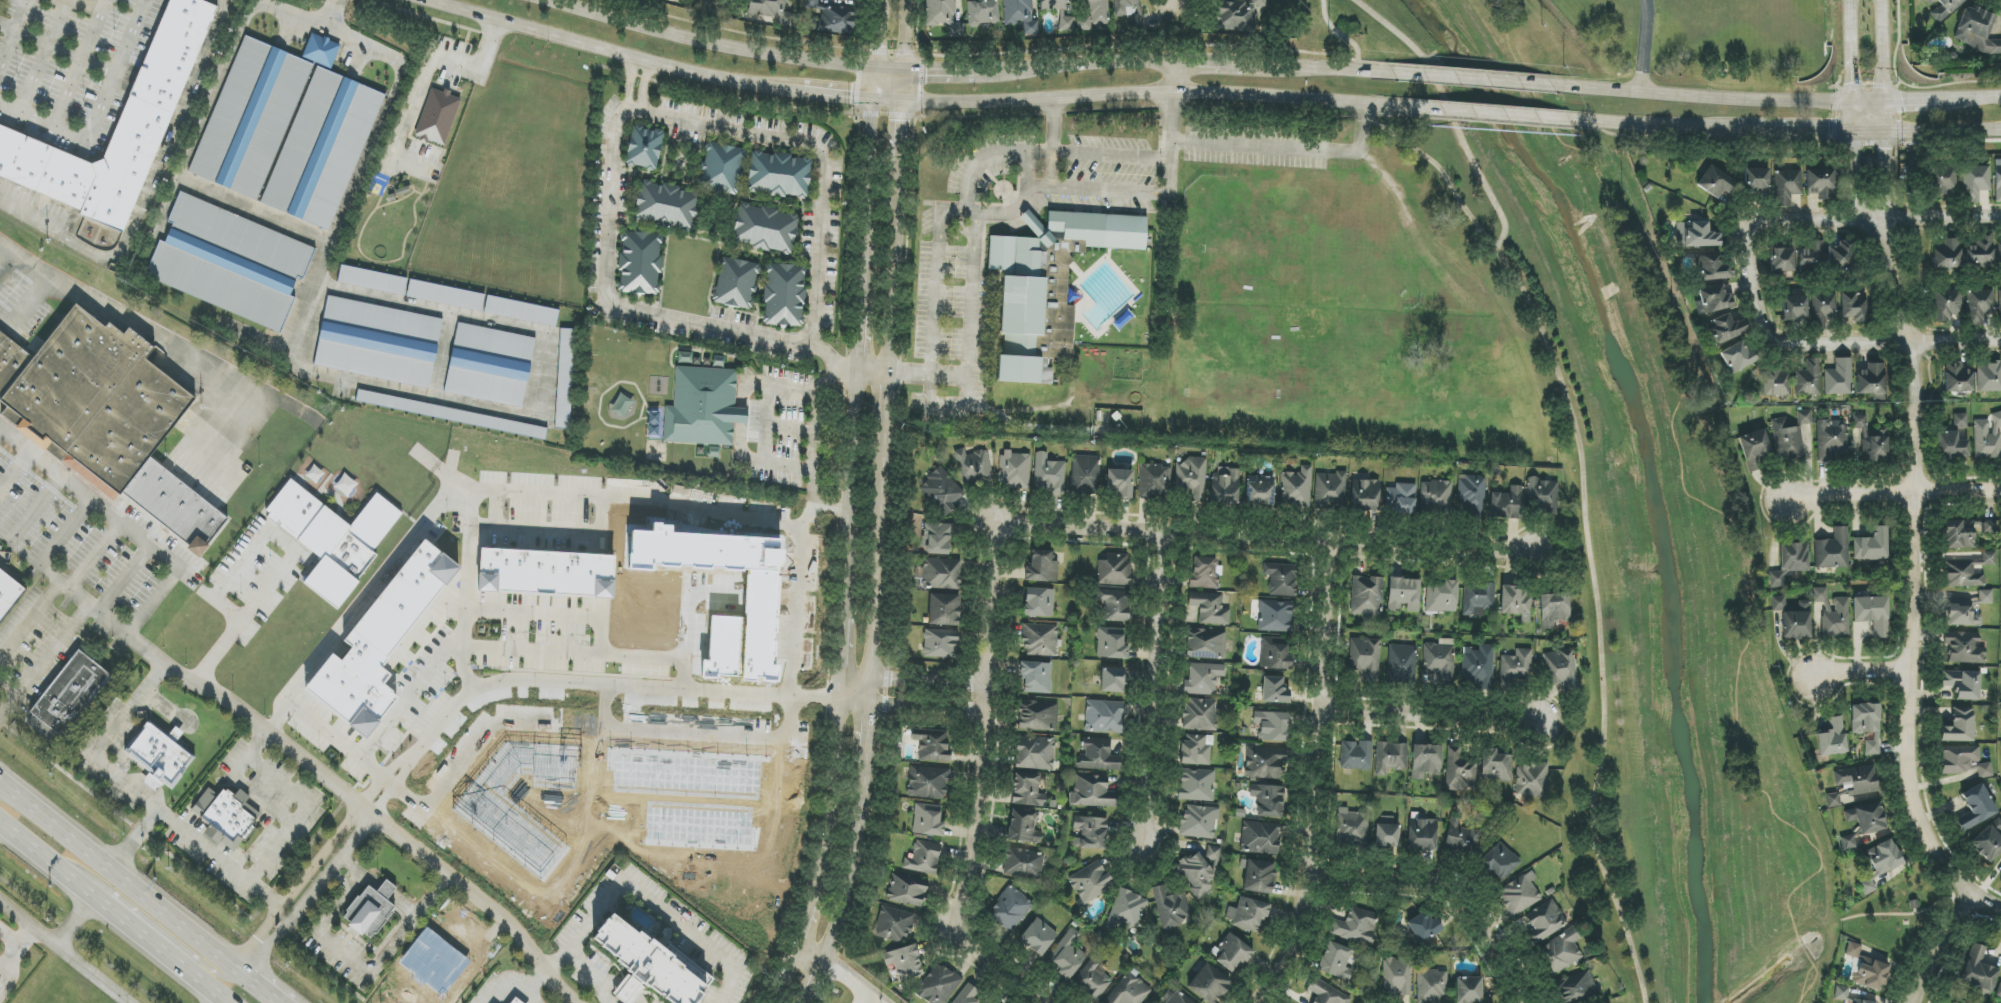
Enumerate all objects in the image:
road: (227, 2)
road: (1178, 3)
building: (1051, 4)
building: (1944, 8)
building: (771, 11)
building: (1129, 11)
building: (982, 12)
road: (299, 15)
building: (1020, 15)
building: (1095, 15)
building: (1237, 15)
building: (944, 16)
building: (831, 18)
building: (1067, 23)
road: (343, 31)
building: (1979, 31)
road: (878, 35)
road: (1343, 35)
road: (696, 42)
road: (1642, 45)
road: (59, 48)
building: (321, 50)
road: (613, 53)
road: (1854, 53)
road: (1885, 53)
building: (166, 65)
road: (1205, 65)
traffic signals: (873, 70)
road: (888, 70)
road: (1076, 70)
road: (1314, 70)
traffic signals: (904, 71)
road: (942, 71)
road: (424, 77)
road: (1471, 79)
road: (630, 83)
road: (644, 85)
road: (1140, 94)
road: (1704, 95)
road: (835, 96)
traffic signals: (870, 99)
traffic signals: (902, 101)
road: (1971, 103)
road: (1930, 104)
road: (1904, 105)
traffic signals: (1857, 106)
road: (1873, 106)
traffic signals: (1889, 106)
road: (1172, 111)
road: (102, 113)
road: (1450, 113)
road: (1489, 114)
building: (437, 117)
building: (250, 118)
road: (1890, 118)
road: (917, 121)
road: (1053, 126)
road: (1662, 126)
road: (1929, 130)
road: (1807, 131)
traffic signals: (1857, 131)
traffic signals: (1891, 131)
building: (644, 148)
road: (1289, 148)
building: (322, 149)
road: (819, 153)
road: (1110, 155)
road: (978, 162)
road: (1855, 166)
building: (722, 168)
road: (1051, 170)
building: (779, 175)
road: (1886, 175)
building: (1756, 180)
building: (1997, 180)
building: (1943, 181)
building: (1716, 183)
building: (1820, 183)
building: (1975, 183)
building: (1786, 186)
road: (1038, 187)
road: (145, 189)
road: (1026, 190)
road: (1126, 192)
building: (665, 206)
road: (1874, 219)
building: (765, 228)
building: (1696, 234)
road: (1727, 236)
building: (1981, 251)
building: (1947, 254)
building: (1999, 254)
building: (1811, 255)
building: (1838, 255)
building: (1781, 260)
road: (8, 261)
building: (229, 262)
building: (640, 263)
building: (1712, 268)
road: (936, 274)
building: (372, 280)
building: (736, 283)
building: (1048, 286)
building: (445, 295)
building: (784, 295)
road: (972, 296)
building: (1714, 299)
building: (1948, 304)
building: (2000, 305)
road: (28, 306)
building: (1853, 307)
building: (1979, 307)
building: (1794, 308)
road: (1889, 308)
building: (1822, 309)
road: (633, 310)
building: (521, 311)
road: (1749, 327)
building: (1725, 329)
road: (158, 334)
road: (1896, 338)
building: (378, 342)
building: (1737, 357)
building: (489, 365)
road: (911, 374)
building: (1988, 377)
building: (565, 378)
building: (1808, 378)
building: (1839, 378)
building: (1958, 378)
building: (1871, 379)
building: (1777, 382)
building: (703, 408)
building: (451, 414)
building: (102, 417)
building: (1804, 417)
road: (217, 419)
building: (1859, 421)
road: (816, 427)
road: (759, 436)
building: (1988, 437)
building: (1831, 439)
building: (1954, 439)
building: (1786, 440)
building: (1873, 445)
building: (1753, 448)
building: (973, 465)
road: (15, 470)
building: (1014, 471)
building: (1049, 474)
building: (1084, 475)
building: (1192, 478)
building: (1154, 481)
building: (1120, 483)
building: (1225, 486)
building: (1296, 488)
building: (1260, 490)
building: (1330, 490)
building: (941, 491)
road: (1894, 492)
building: (1365, 495)
building: (1542, 495)
building: (1436, 496)
building: (1472, 496)
road: (647, 498)
building: (1401, 499)
building: (1507, 503)
road: (881, 505)
road: (35, 509)
road: (1584, 524)
road: (124, 526)
building: (1984, 526)
building: (1959, 534)
road: (269, 535)
building: (333, 538)
road: (1267, 538)
building: (937, 539)
road: (848, 541)
building: (1871, 545)
building: (1832, 550)
road: (94, 556)
road: (44, 557)
building: (1793, 557)
building: (1988, 558)
road: (390, 563)
building: (1041, 567)
building: (1114, 570)
building: (546, 573)
building: (1204, 573)
building: (940, 574)
building: (1962, 574)
road: (123, 579)
building: (1281, 579)
building: (1774, 579)
building: (6, 592)
building: (1404, 594)
building: (1819, 595)
building: (1367, 596)
building: (1442, 597)
building: (1985, 597)
building: (1478, 598)
building: (1039, 602)
building: (1516, 602)
building: (1777, 603)
building: (1115, 606)
building: (1209, 608)
building: (1554, 609)
building: (944, 610)
road: (794, 613)
building: (1962, 613)
building: (1872, 614)
building: (1275, 616)
road: (561, 618)
road: (29, 619)
building: (1836, 619)
building: (1795, 625)
building: (1040, 640)
building: (380, 643)
building: (1111, 643)
building: (940, 644)
building: (1205, 644)
building: (1963, 647)
road: (532, 652)
building: (1275, 653)
road: (216, 654)
building: (1365, 659)
building: (1440, 661)
building: (1402, 664)
building: (1478, 667)
building: (1515, 667)
road: (1857, 668)
road: (1906, 668)
building: (1562, 669)
building: (1036, 677)
building: (1202, 679)
building: (1112, 680)
road: (912, 682)
building: (1962, 684)
road: (1155, 686)
road: (576, 689)
building: (1274, 690)
road: (6, 691)
road: (414, 693)
building: (64, 694)
road: (165, 706)
road: (911, 710)
building: (1199, 714)
building: (1038, 715)
road: (1429, 715)
building: (1104, 717)
building: (1866, 725)
building: (1271, 726)
building: (1959, 726)
road: (693, 732)
building: (1832, 738)
road: (342, 744)
building: (932, 745)
building: (1195, 750)
road: (286, 751)
building: (1036, 753)
building: (158, 755)
building: (1098, 755)
building: (1356, 756)
building: (1390, 757)
building: (1425, 761)
building: (1964, 761)
building: (1265, 763)
building: (1494, 766)
building: (1458, 771)
road: (1313, 778)
building: (1531, 781)
building: (928, 782)
building: (1196, 785)
building: (1851, 785)
road: (132, 787)
road: (980, 787)
building: (1029, 790)
building: (1092, 791)
building: (1268, 800)
building: (1975, 808)
building: (1867, 818)
building: (224, 819)
road: (299, 819)
building: (927, 820)
building: (1199, 822)
building: (1024, 826)
building: (1352, 827)
building: (1090, 833)
building: (1387, 833)
building: (1422, 835)
road: (134, 838)
building: (1260, 838)
building: (1988, 841)
building: (1848, 842)
road: (39, 853)
building: (1884, 857)
building: (923, 858)
building: (1500, 862)
building: (1023, 864)
building: (1198, 871)
building: (1258, 876)
road: (120, 877)
road: (357, 882)
building: (1090, 882)
road: (296, 887)
road: (1448, 888)
building: (907, 890)
road: (649, 893)
building: (1519, 894)
road: (308, 897)
building: (1170, 907)
building: (373, 908)
building: (1010, 909)
building: (1127, 910)
building: (1248, 914)
road: (119, 917)
building: (1545, 920)
road: (74, 922)
building: (893, 925)
building: (1356, 926)
building: (1424, 927)
building: (1037, 937)
road: (9, 939)
road: (1932, 940)
building: (1561, 952)
road: (62, 953)
building: (1233, 953)
building: (1067, 955)
road: (811, 956)
road: (11, 961)
building: (1336, 961)
building: (904, 962)
road: (202, 963)
building: (646, 965)
road: (369, 968)
building: (1867, 969)
building: (1978, 971)
road: (193, 976)
road: (594, 976)
road: (534, 978)
building: (1396, 978)
building: (1094, 979)
road: (845, 980)
building: (1209, 983)
road: (500, 984)
building: (1, 985)
building: (938, 985)
building: (1431, 986)
road: (260, 987)
building: (1577, 989)
building: (1129, 990)
building: (1469, 990)
building: (1999, 991)
building: (1326, 993)
building: (1841, 993)
road: (529, 994)
building: (967, 995)
building: (1179, 998)
road: (219, 1000)
building: (515, 1001)
building: (1859, 1001)

